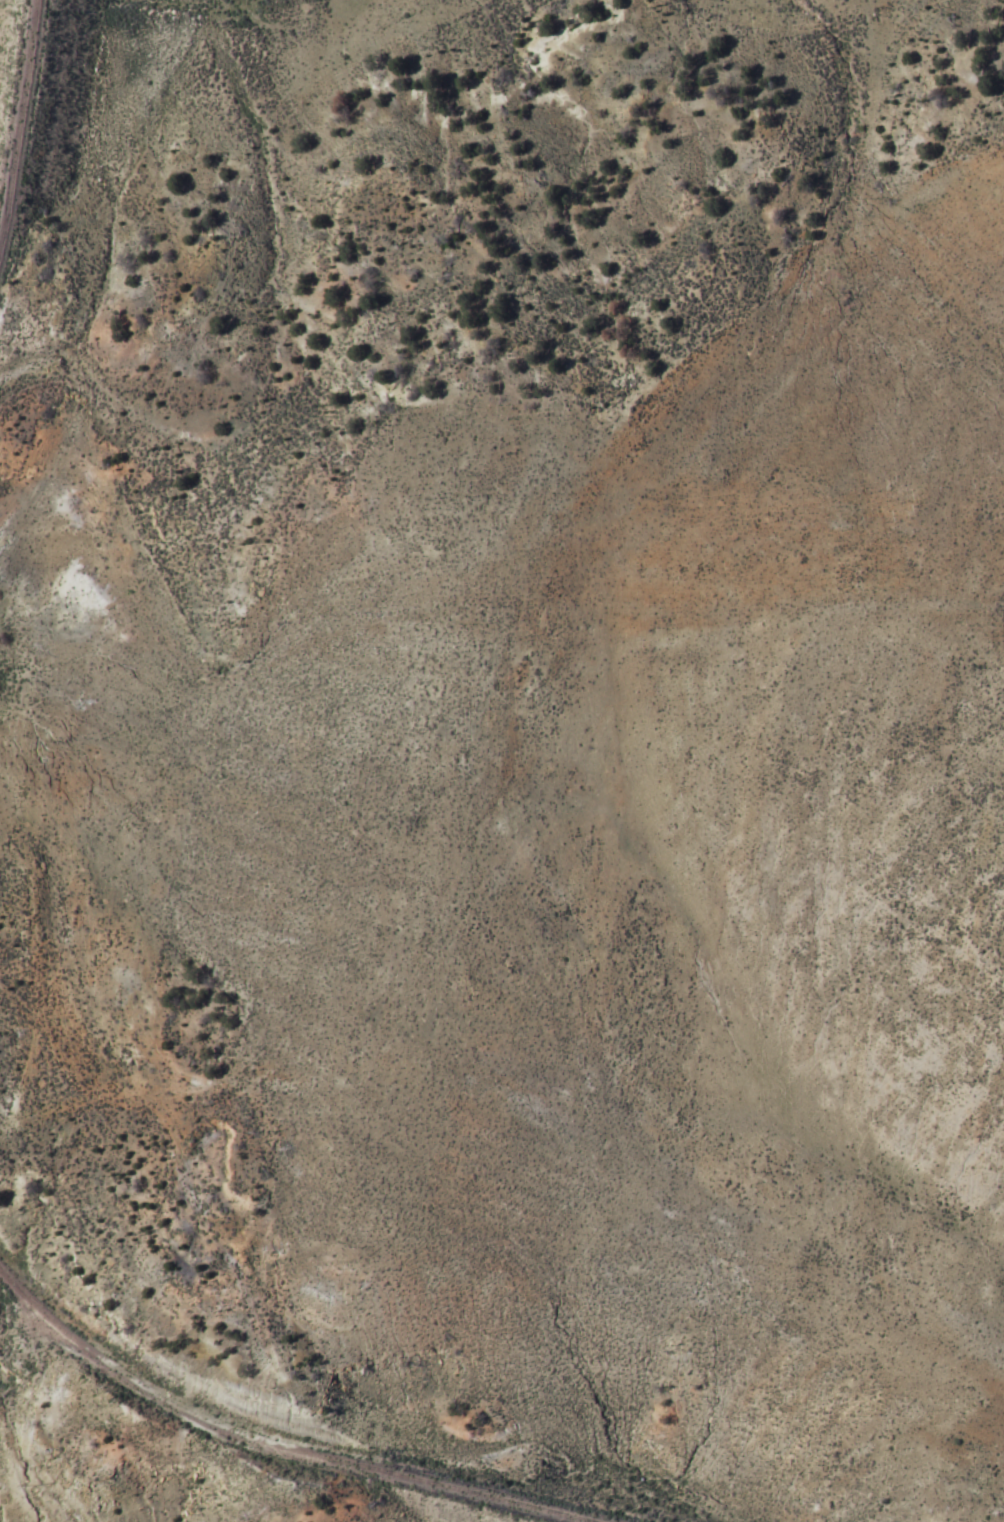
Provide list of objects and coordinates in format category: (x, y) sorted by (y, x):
railway: (35, 110)
railway: (4, 235)
railway: (278, 1445)

